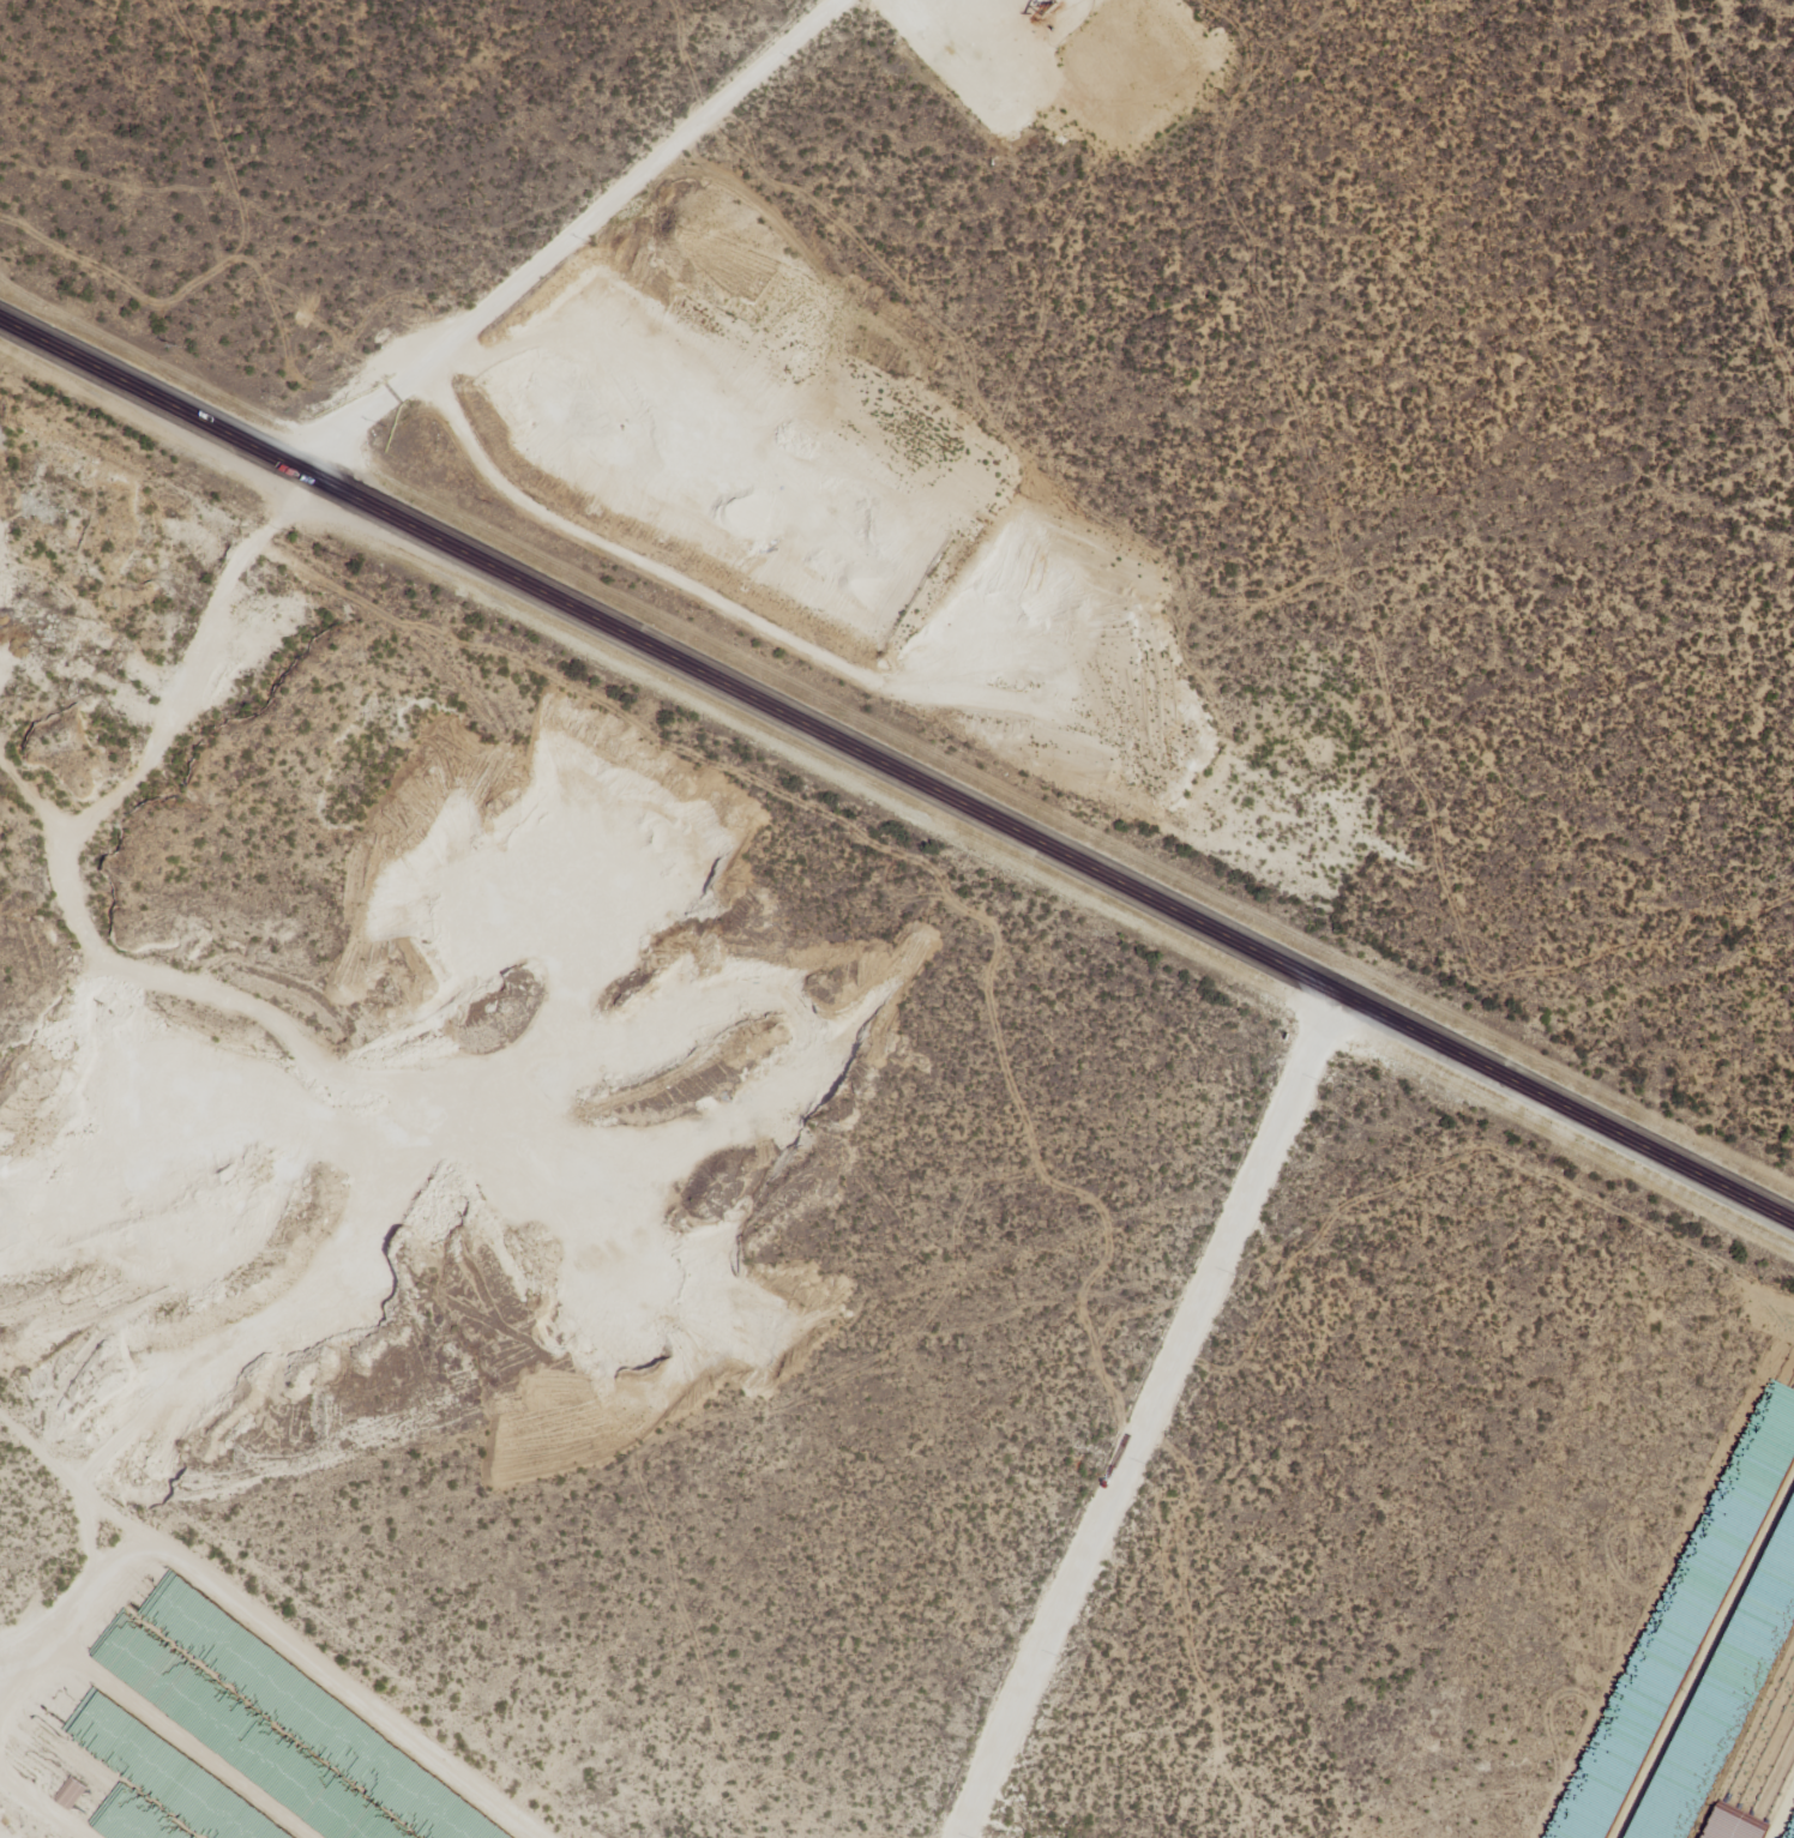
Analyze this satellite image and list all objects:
road: (616, 241)
road: (901, 589)
road: (897, 769)

